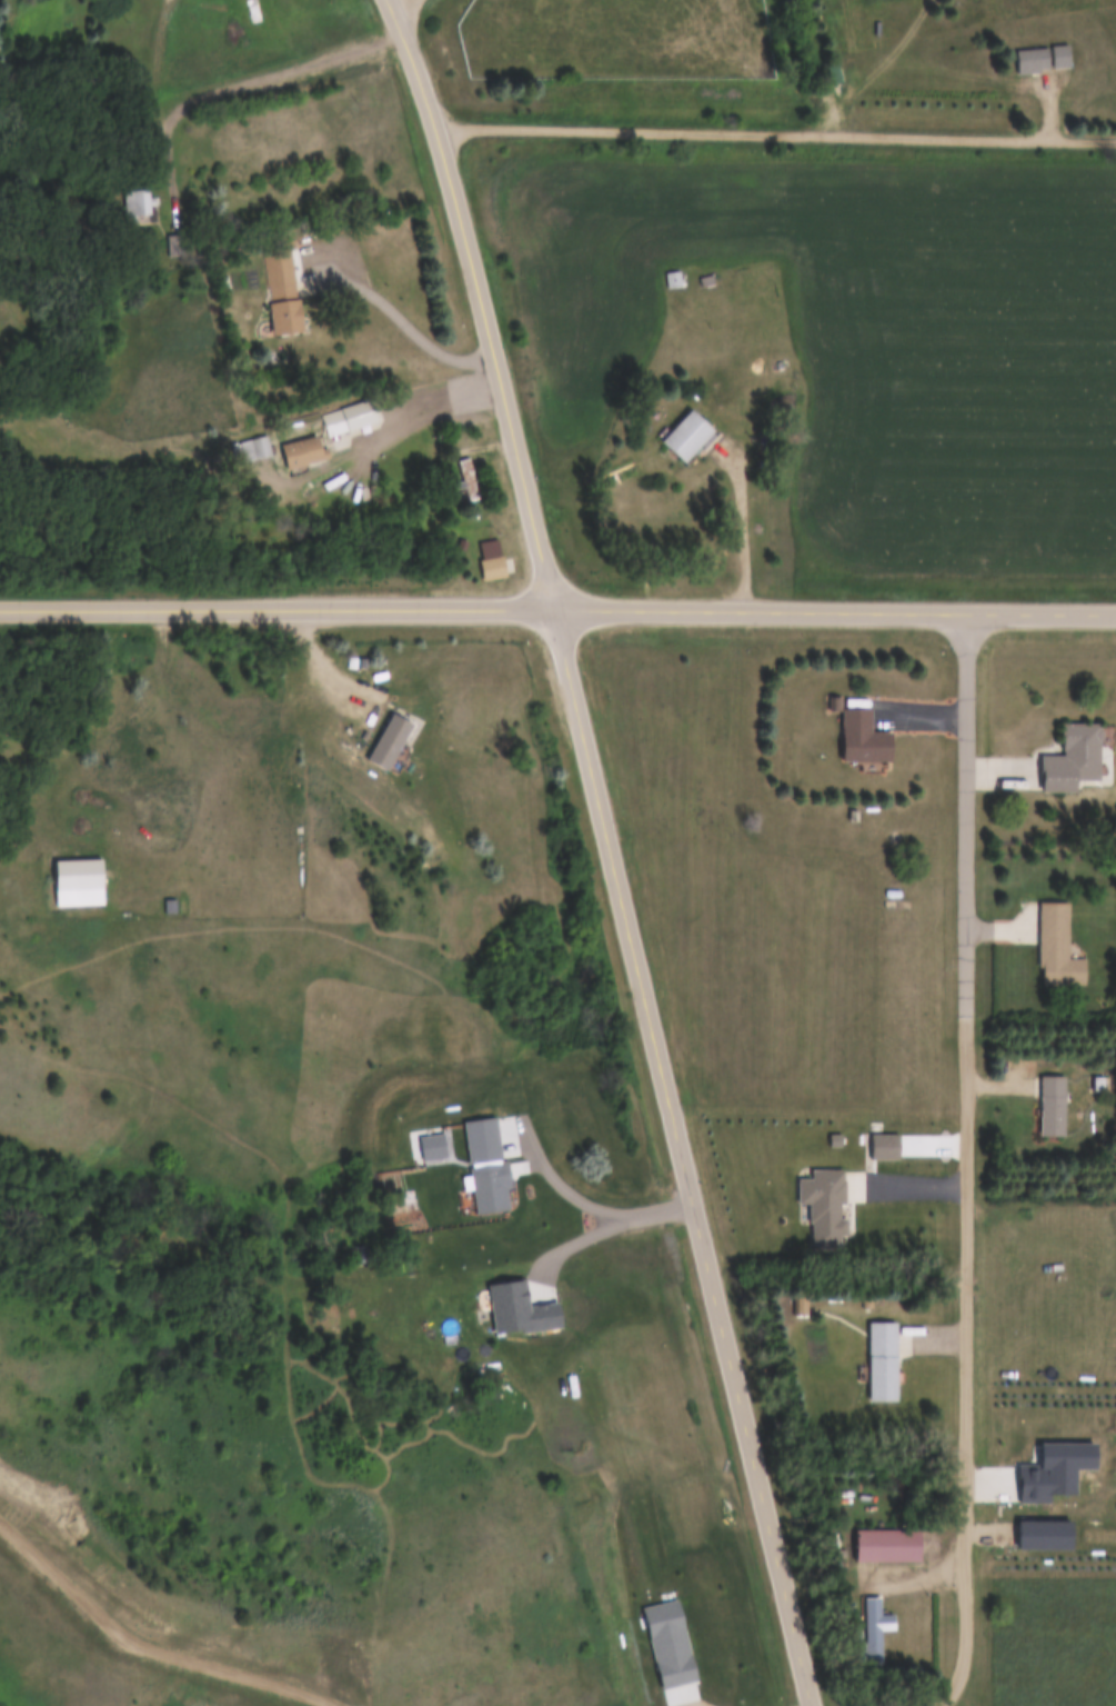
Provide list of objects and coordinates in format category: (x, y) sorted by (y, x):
road: (396, 2)
building: (1039, 60)
road: (244, 78)
road: (812, 93)
road: (1034, 106)
road: (734, 130)
road: (1073, 138)
building: (143, 204)
building: (179, 247)
building: (670, 280)
building: (284, 288)
road: (396, 310)
building: (290, 317)
road: (410, 409)
building: (690, 436)
building: (254, 448)
building: (303, 451)
building: (469, 481)
road: (744, 513)
building: (494, 560)
road: (557, 608)
building: (864, 738)
building: (1073, 759)
road: (967, 808)
road: (612, 849)
building: (1057, 947)
building: (903, 979)
building: (1053, 1106)
building: (883, 1147)
road: (967, 1358)
building: (883, 1363)
building: (887, 1547)
building: (872, 1629)

